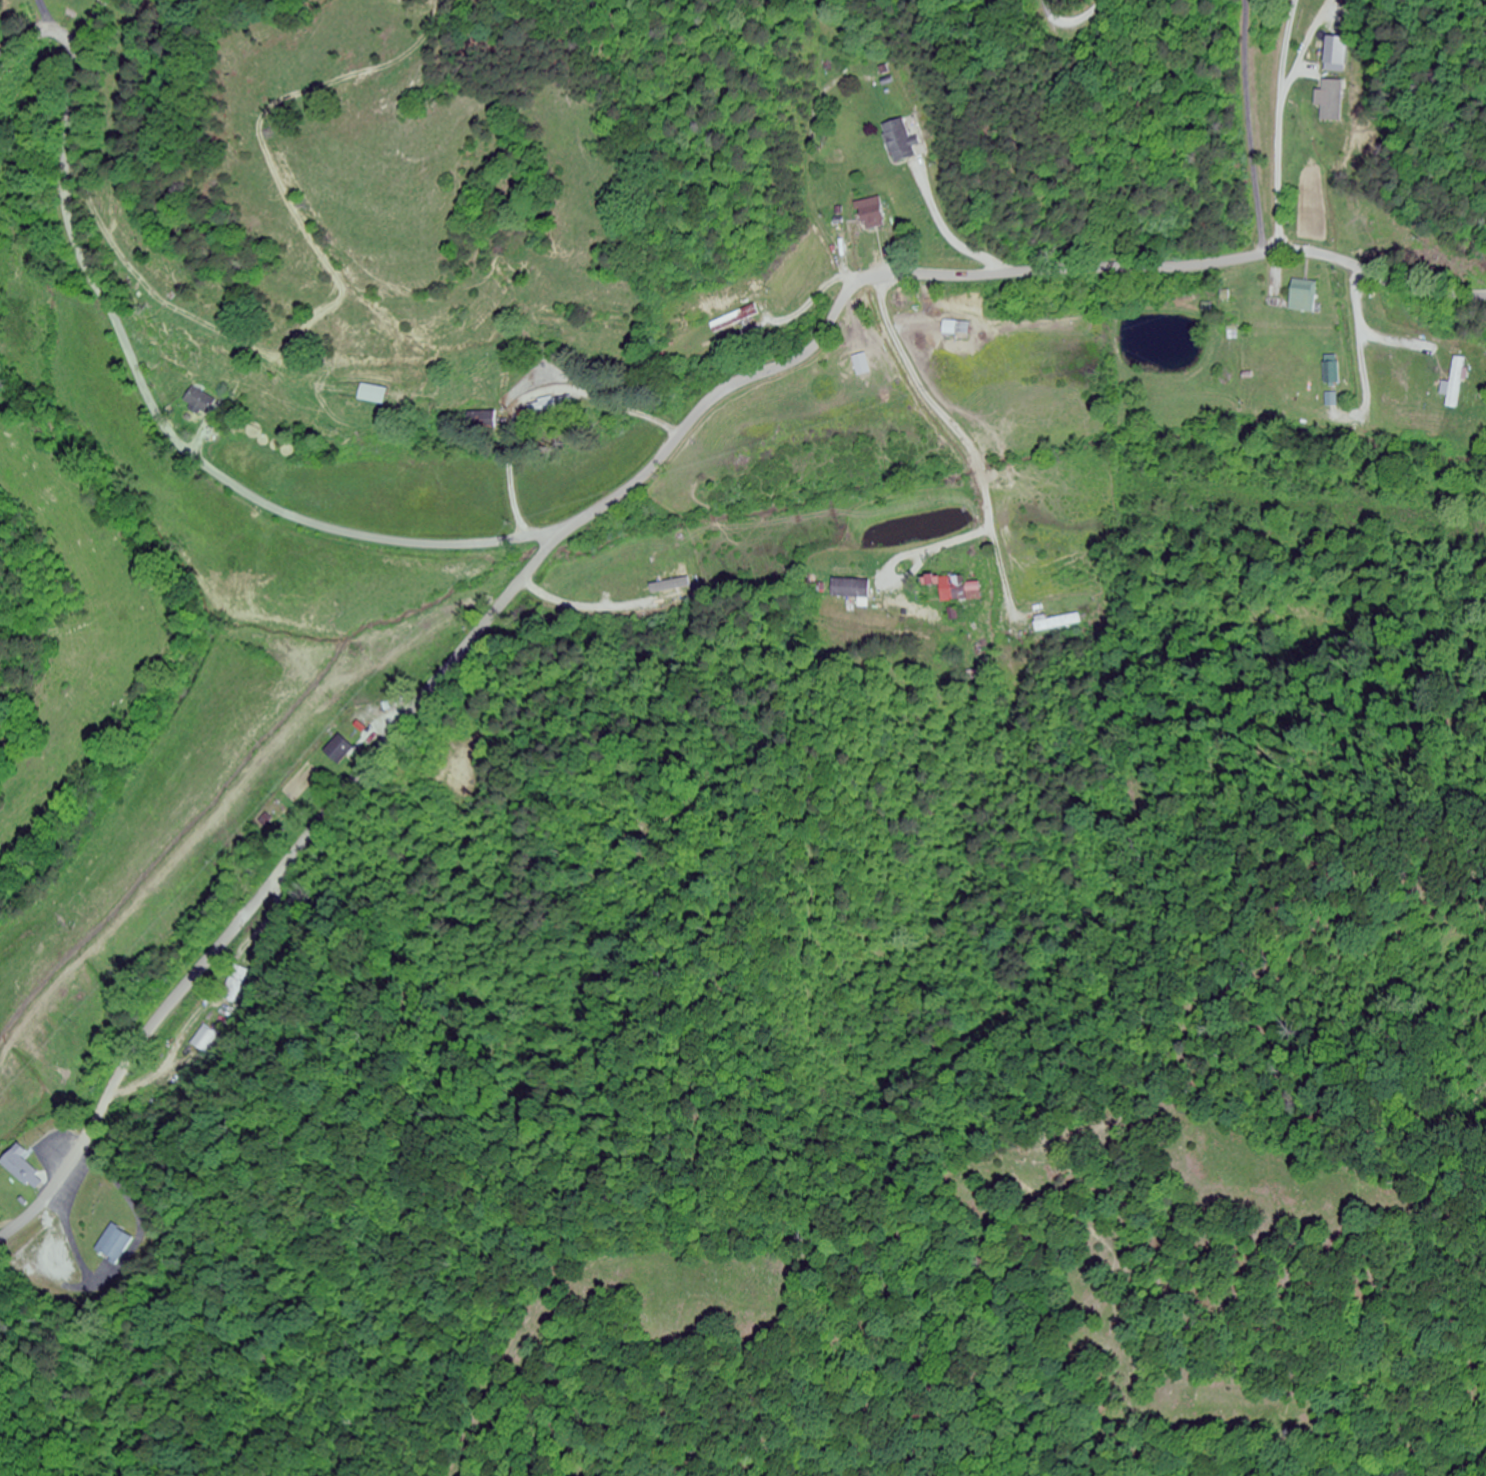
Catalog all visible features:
road: (1071, 24)
building: (1338, 63)
road: (1259, 128)
building: (899, 141)
building: (870, 215)
building: (1305, 297)
building: (736, 320)
building: (1332, 371)
building: (1456, 383)
building: (374, 394)
building: (197, 402)
road: (150, 403)
building: (551, 406)
road: (958, 428)
road: (615, 497)
building: (858, 589)
building: (957, 589)
building: (667, 590)
building: (1059, 623)
building: (1026, 632)
building: (339, 751)
building: (263, 820)
building: (232, 984)
building: (201, 1040)
building: (24, 1170)
building: (114, 1245)

